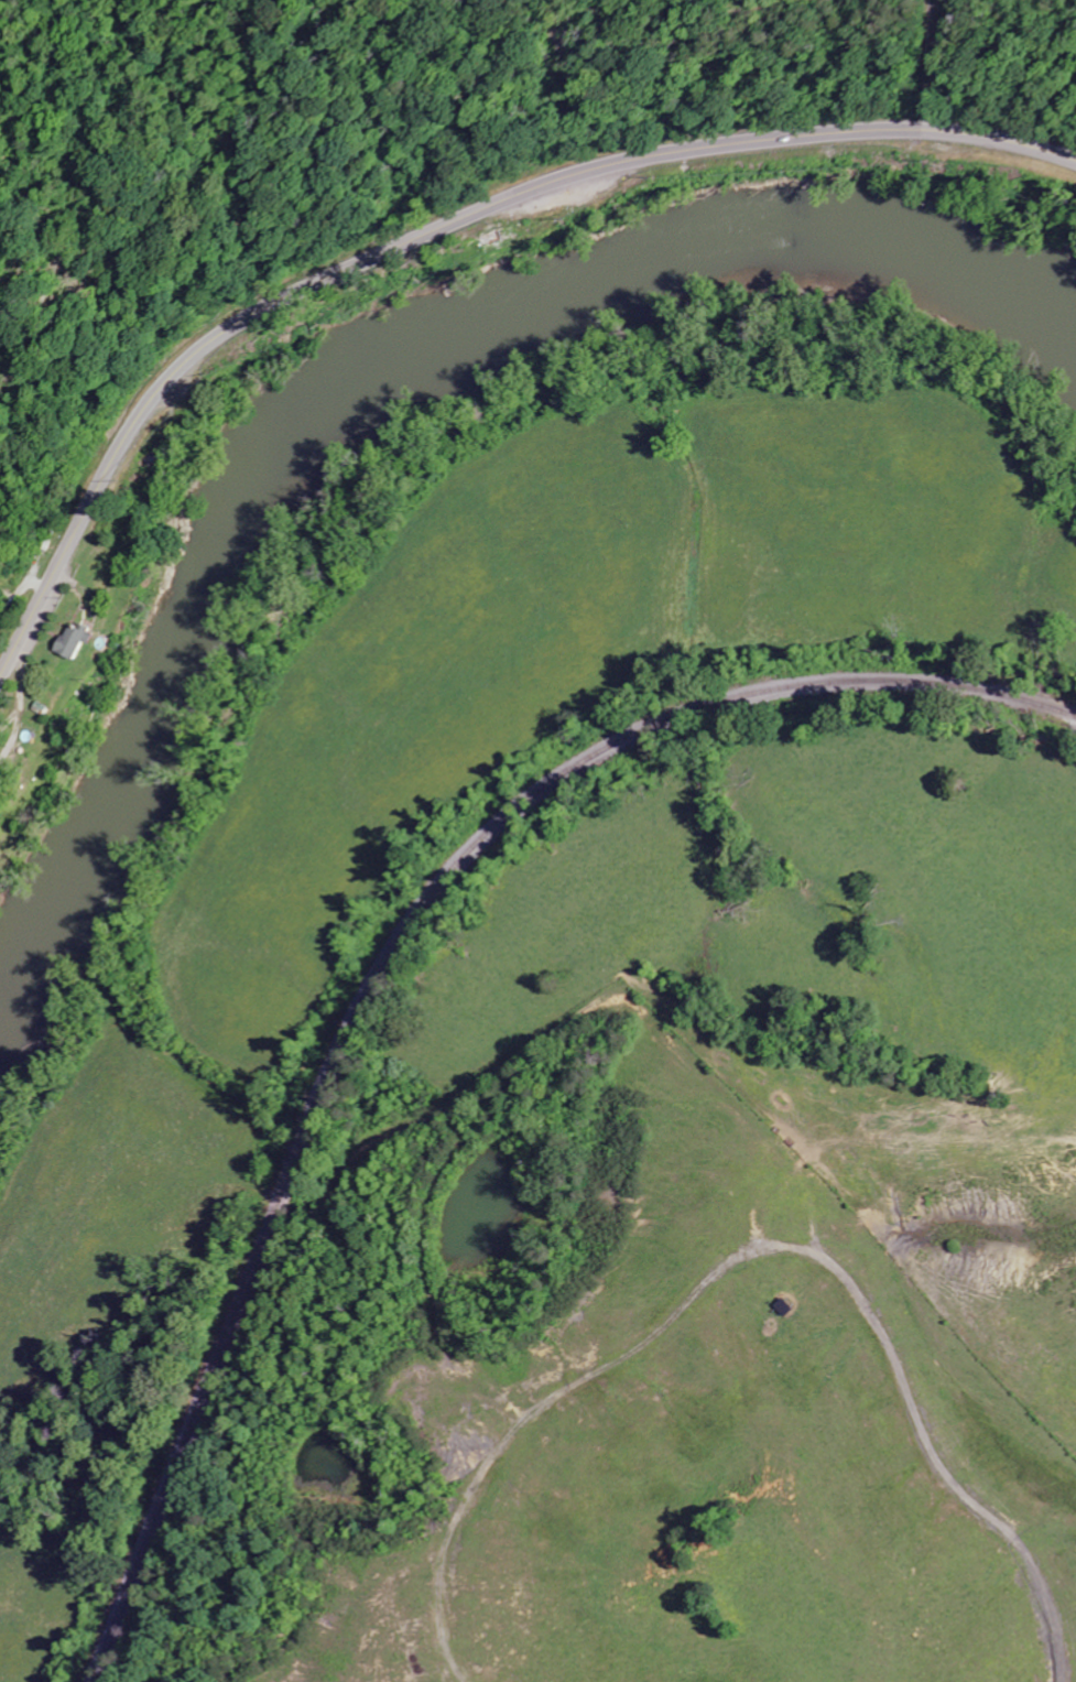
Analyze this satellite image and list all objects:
road: (323, 15)
road: (439, 228)
river: (389, 356)
building: (0, 540)
building: (81, 641)
railway: (383, 940)

